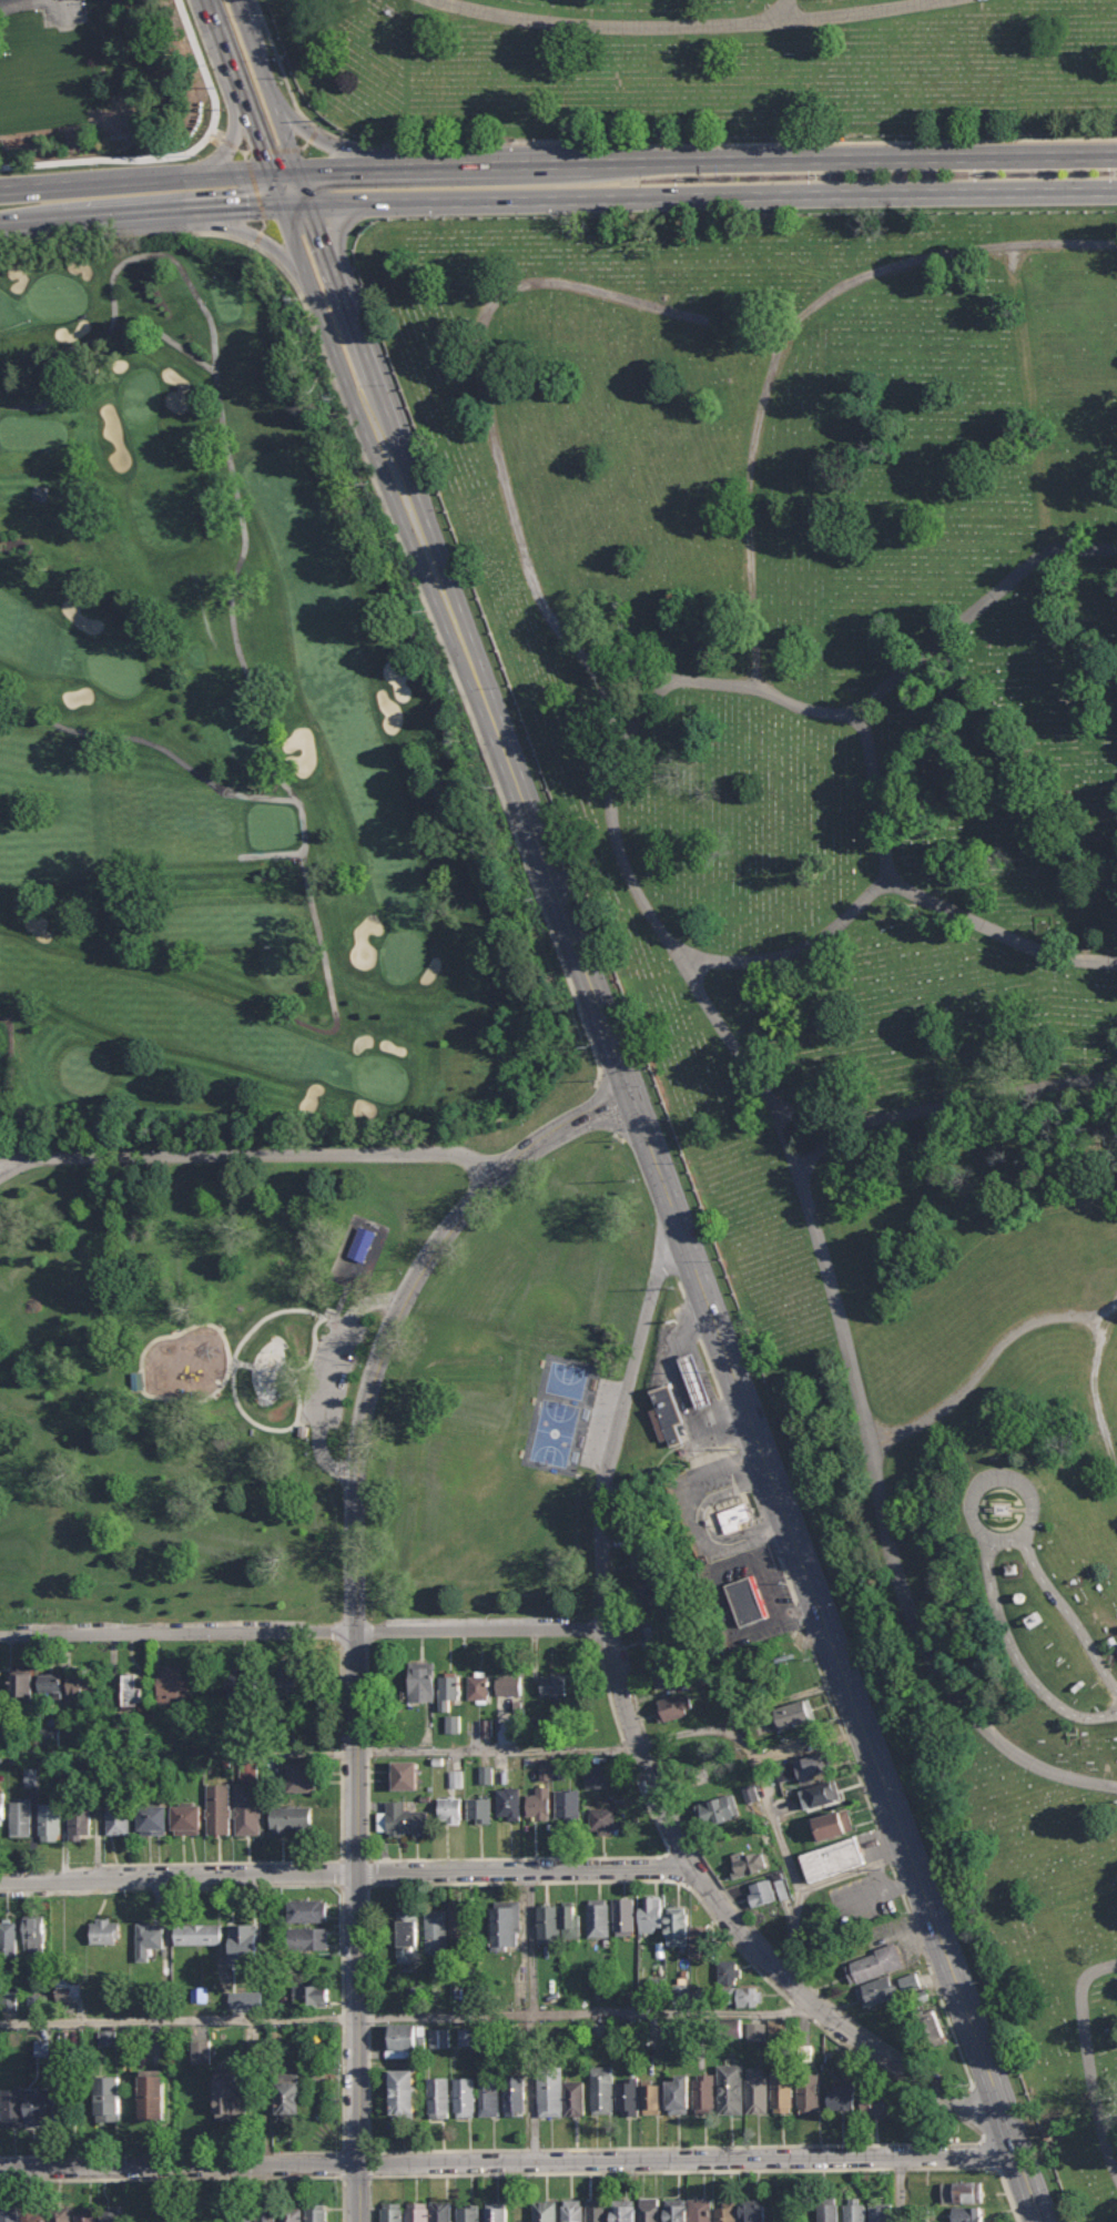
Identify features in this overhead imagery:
road: (31, 4)
road: (783, 10)
parking lot: (64, 12)
road: (64, 13)
road: (687, 27)
road: (226, 51)
park: (704, 68)
road: (267, 83)
park: (103, 85)
traffic signals: (235, 131)
road: (316, 133)
road: (257, 135)
road: (316, 136)
road: (232, 140)
traffic signals: (321, 141)
road: (643, 141)
road: (232, 142)
traffic signals: (261, 144)
road: (308, 144)
road: (278, 148)
road: (246, 149)
road: (250, 149)
road: (854, 156)
road: (479, 165)
road: (332, 168)
traffic signals: (332, 169)
road: (284, 171)
road: (238, 172)
street lamp: (981, 173)
street lamp: (821, 175)
street lamp: (720, 177)
street lamp: (680, 179)
road: (302, 181)
road: (103, 182)
road: (273, 182)
road: (258, 186)
road: (713, 196)
road: (280, 199)
road: (308, 199)
road: (297, 205)
road: (236, 207)
traffic signals: (248, 207)
road: (128, 215)
road: (32, 223)
road: (267, 223)
traffic signals: (321, 231)
road: (253, 234)
traffic signals: (253, 234)
road: (261, 235)
road: (261, 245)
road: (343, 292)
road: (332, 334)
road: (167, 338)
road: (784, 338)
road: (380, 418)
building: (40, 494)
road: (242, 514)
road: (558, 632)
road: (610, 680)
road: (144, 724)
park: (230, 734)
road: (262, 798)
road: (275, 856)
road: (923, 899)
park: (857, 921)
road: (800, 950)
traffic signals: (631, 1097)
road: (935, 1108)
road: (252, 1154)
road: (811, 1160)
road: (14, 1165)
building: (361, 1244)
road: (978, 1254)
road: (824, 1258)
road: (680, 1288)
road: (356, 1289)
road: (691, 1317)
road: (720, 1338)
road: (234, 1359)
road: (240, 1361)
parking lot: (337, 1361)
road: (139, 1362)
road: (303, 1367)
road: (709, 1367)
road: (984, 1367)
park: (316, 1368)
road: (328, 1376)
park: (565, 1380)
building: (695, 1380)
building: (138, 1382)
road: (1094, 1382)
building: (668, 1417)
parking lot: (599, 1423)
park: (552, 1432)
road: (730, 1443)
road: (747, 1504)
building: (734, 1515)
road: (764, 1536)
road: (1008, 1542)
building: (641, 1552)
road: (353, 1571)
road: (785, 1579)
building: (648, 1591)
building: (747, 1601)
road: (1068, 1613)
road: (802, 1625)
road: (305, 1631)
building: (653, 1636)
road: (609, 1644)
road: (352, 1645)
road: (1016, 1660)
road: (815, 1664)
building: (667, 1674)
building: (422, 1681)
building: (51, 1682)
building: (241, 1682)
building: (287, 1682)
building: (21, 1683)
building: (172, 1683)
building: (83, 1684)
building: (508, 1684)
building: (478, 1685)
building: (552, 1685)
road: (823, 1686)
building: (447, 1687)
building: (133, 1688)
road: (630, 1691)
road: (607, 1692)
road: (339, 1694)
road: (365, 1695)
building: (673, 1706)
building: (792, 1714)
building: (449, 1722)
building: (484, 1725)
building: (50, 1734)
road: (648, 1745)
road: (623, 1748)
road: (339, 1751)
road: (366, 1751)
road: (640, 1751)
road: (353, 1752)
building: (435, 1758)
road: (851, 1759)
building: (801, 1765)
building: (245, 1768)
building: (549, 1769)
building: (403, 1774)
building: (486, 1774)
building: (27, 1775)
building: (303, 1776)
building: (453, 1777)
building: (598, 1777)
building: (820, 1794)
road: (770, 1802)
building: (508, 1804)
building: (539, 1804)
building: (568, 1804)
building: (1, 1807)
building: (219, 1808)
building: (247, 1808)
road: (341, 1808)
road: (366, 1808)
building: (449, 1809)
building: (479, 1809)
building: (718, 1809)
building: (118, 1815)
building: (20, 1817)
building: (187, 1818)
building: (291, 1818)
building: (153, 1819)
building: (402, 1820)
building: (602, 1820)
building: (49, 1822)
building: (80, 1824)
building: (832, 1824)
road: (882, 1845)
road: (569, 1857)
road: (354, 1859)
building: (832, 1859)
building: (749, 1860)
road: (221, 1861)
road: (702, 1863)
road: (668, 1868)
road: (368, 1871)
road: (892, 1871)
road: (348, 1873)
road: (341, 1874)
road: (854, 1874)
road: (119, 1875)
road: (527, 1881)
road: (379, 1884)
road: (354, 1886)
road: (897, 1887)
road: (688, 1888)
building: (782, 1889)
building: (761, 1891)
road: (904, 1904)
building: (307, 1910)
building: (650, 1914)
building: (623, 1916)
building: (598, 1918)
building: (571, 1921)
building: (459, 1922)
building: (548, 1924)
building: (506, 1925)
building: (677, 1927)
building: (105, 1930)
building: (436, 1930)
building: (199, 1934)
building: (33, 1936)
building: (408, 1936)
building: (9, 1937)
building: (308, 1938)
building: (148, 1939)
building: (244, 1940)
building: (701, 1942)
road: (923, 1954)
building: (874, 1964)
road: (786, 1966)
building: (728, 1971)
building: (910, 1982)
building: (68, 1986)
building: (654, 1987)
road: (792, 1988)
building: (195, 1991)
building: (879, 1991)
building: (680, 1993)
building: (311, 1995)
building: (747, 1996)
building: (242, 1998)
road: (800, 2011)
road: (531, 2015)
road: (410, 2017)
road: (367, 2018)
building: (776, 2027)
building: (729, 2029)
building: (932, 2029)
building: (756, 2030)
building: (104, 2037)
building: (466, 2037)
building: (438, 2038)
road: (833, 2038)
building: (405, 2039)
building: (39, 2045)
building: (201, 2051)
road: (1090, 2059)
road: (874, 2064)
road: (918, 2066)
road: (342, 2087)
building: (731, 2088)
building: (602, 2090)
building: (756, 2090)
building: (678, 2091)
building: (782, 2091)
building: (404, 2092)
building: (152, 2093)
building: (229, 2093)
building: (704, 2093)
building: (809, 2094)
building: (843, 2094)
building: (290, 2096)
building: (464, 2096)
building: (489, 2096)
building: (515, 2096)
building: (561, 2096)
building: (627, 2096)
building: (652, 2096)
building: (438, 2097)
building: (108, 2098)
building: (879, 2104)
road: (934, 2106)
building: (35, 2107)
road: (974, 2109)
road: (1107, 2120)
road: (763, 2145)
road: (532, 2149)
road: (384, 2150)
road: (354, 2151)
road: (987, 2153)
road: (687, 2158)
road: (367, 2162)
road: (341, 2163)
road: (177, 2165)
road: (981, 2167)
road: (898, 2168)
road: (629, 2171)
road: (354, 2177)
road: (193, 2178)
road: (901, 2189)
building: (961, 2191)
road: (357, 2192)
road: (367, 2199)
building: (829, 2209)
building: (572, 2210)
building: (597, 2210)
building: (623, 2210)
building: (649, 2210)
building: (701, 2210)
building: (754, 2210)
building: (854, 2210)
building: (545, 2211)
building: (725, 2211)
building: (317, 2212)
building: (392, 2212)
building: (417, 2212)
building: (441, 2212)
building: (496, 2212)
building: (676, 2212)
building: (881, 2212)
building: (112, 2213)
building: (291, 2213)
building: (468, 2213)
building: (60, 2214)
building: (87, 2214)
building: (967, 2214)
building: (10, 2215)
building: (34, 2215)
building: (265, 2215)
building: (241, 2216)

